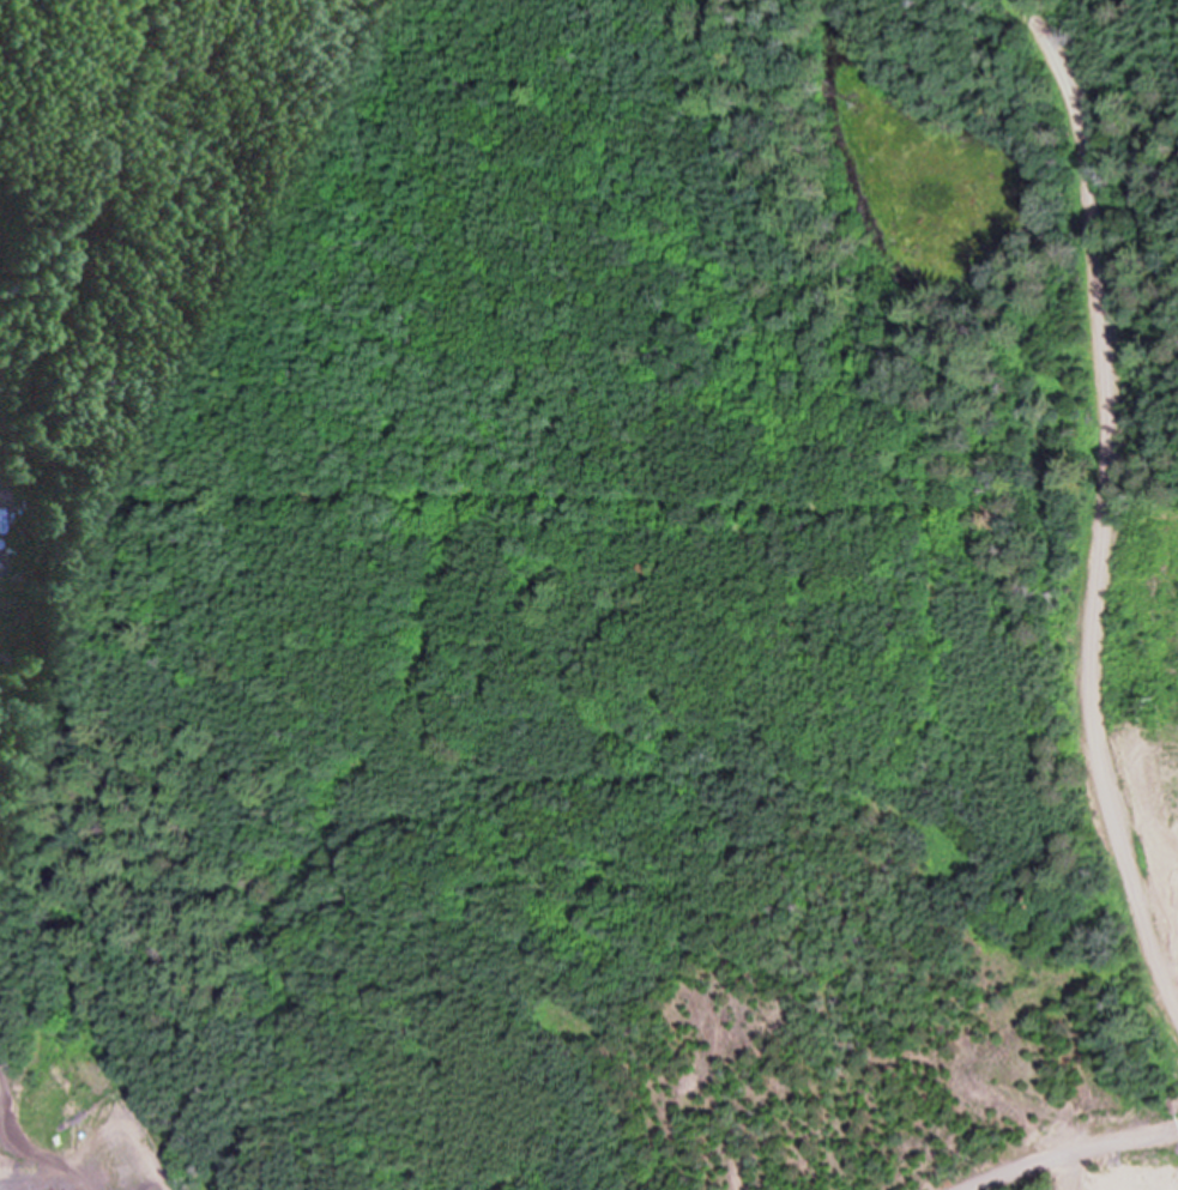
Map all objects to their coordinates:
quarry: (13, 484)
road: (1100, 502)
quarry: (588, 594)
quarry: (77, 1119)
quarry: (1131, 1132)
road: (1065, 1149)

